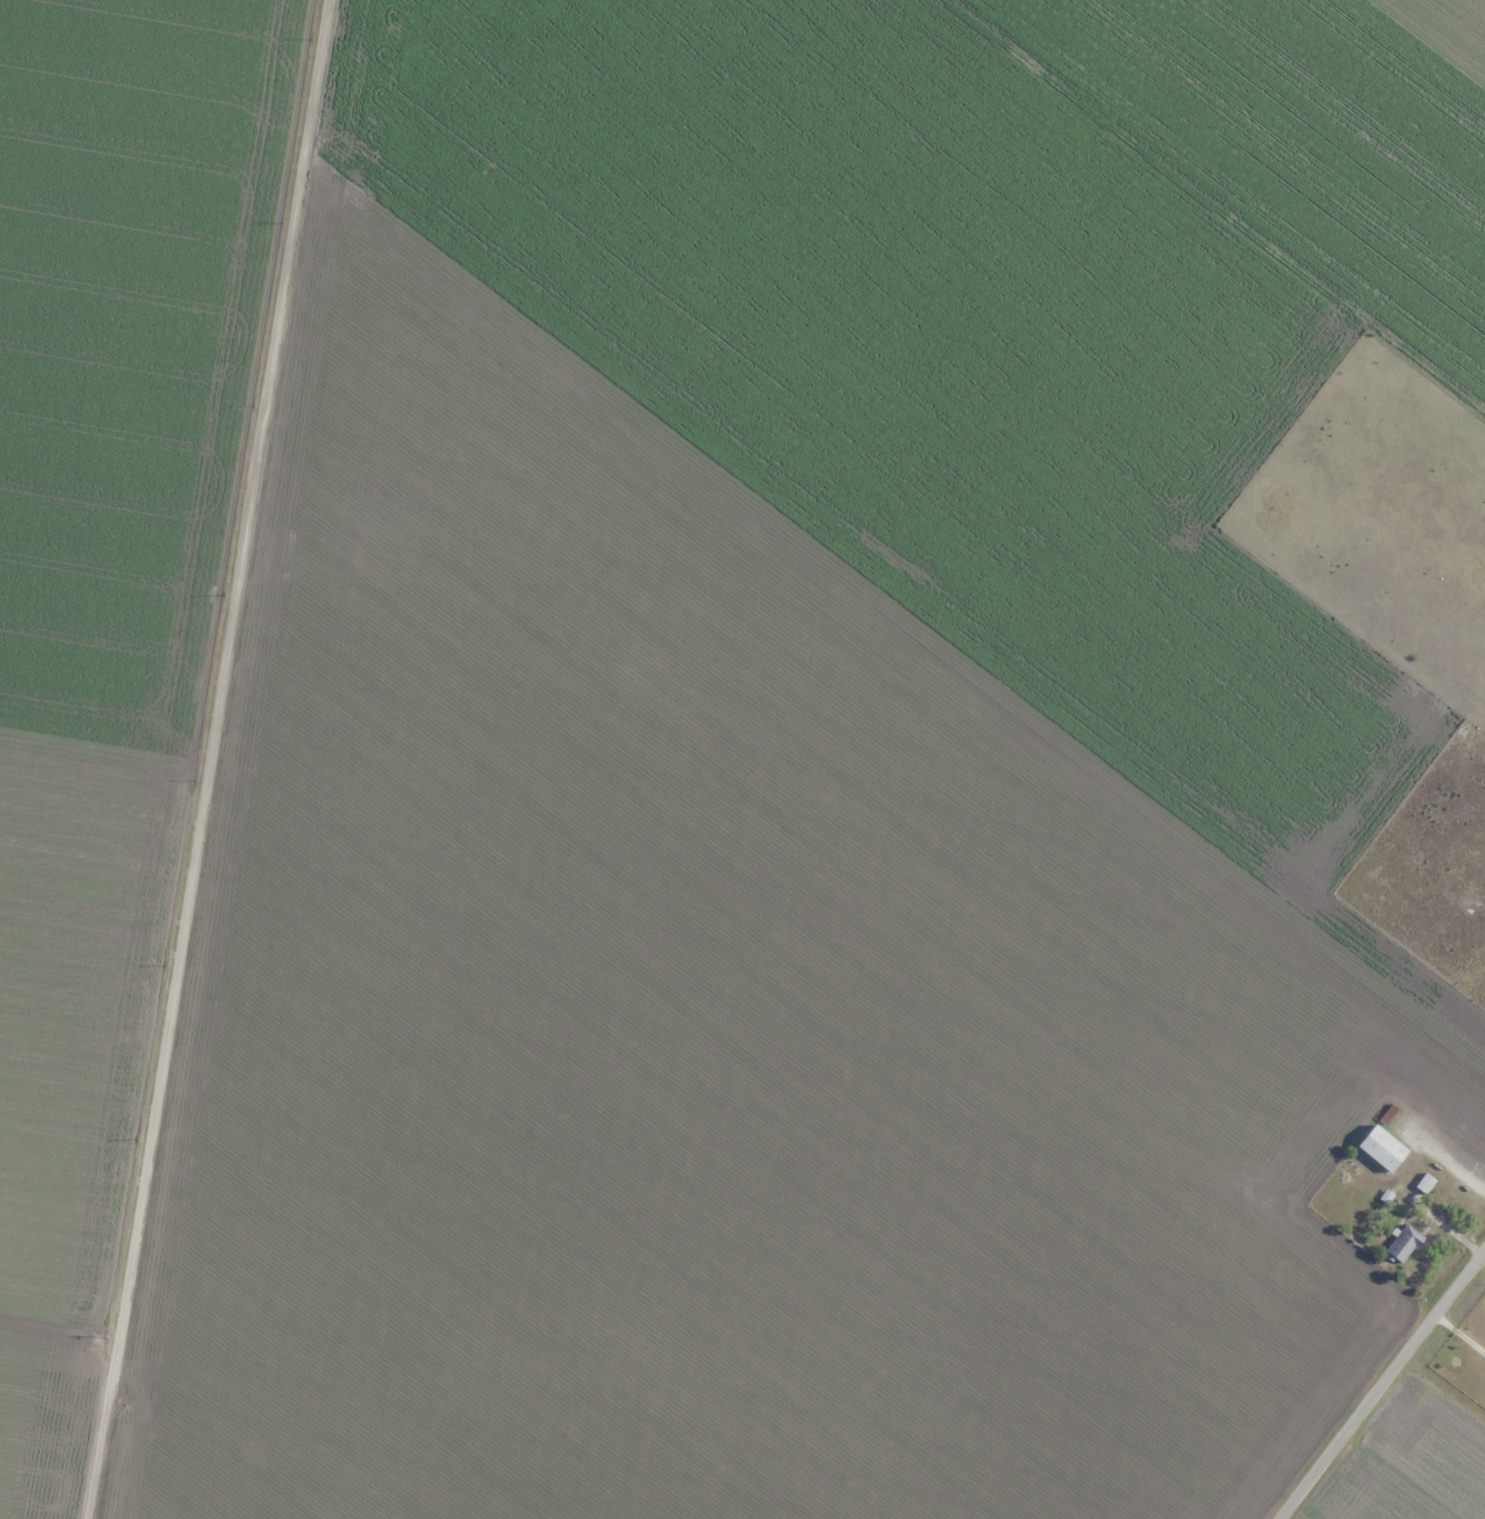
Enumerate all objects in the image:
road: (199, 759)
crop: (832, 767)
building: (1381, 1149)
building: (1425, 1183)
building: (1403, 1244)
road: (51, 1364)
road: (1391, 1385)
crop: (1417, 1466)

